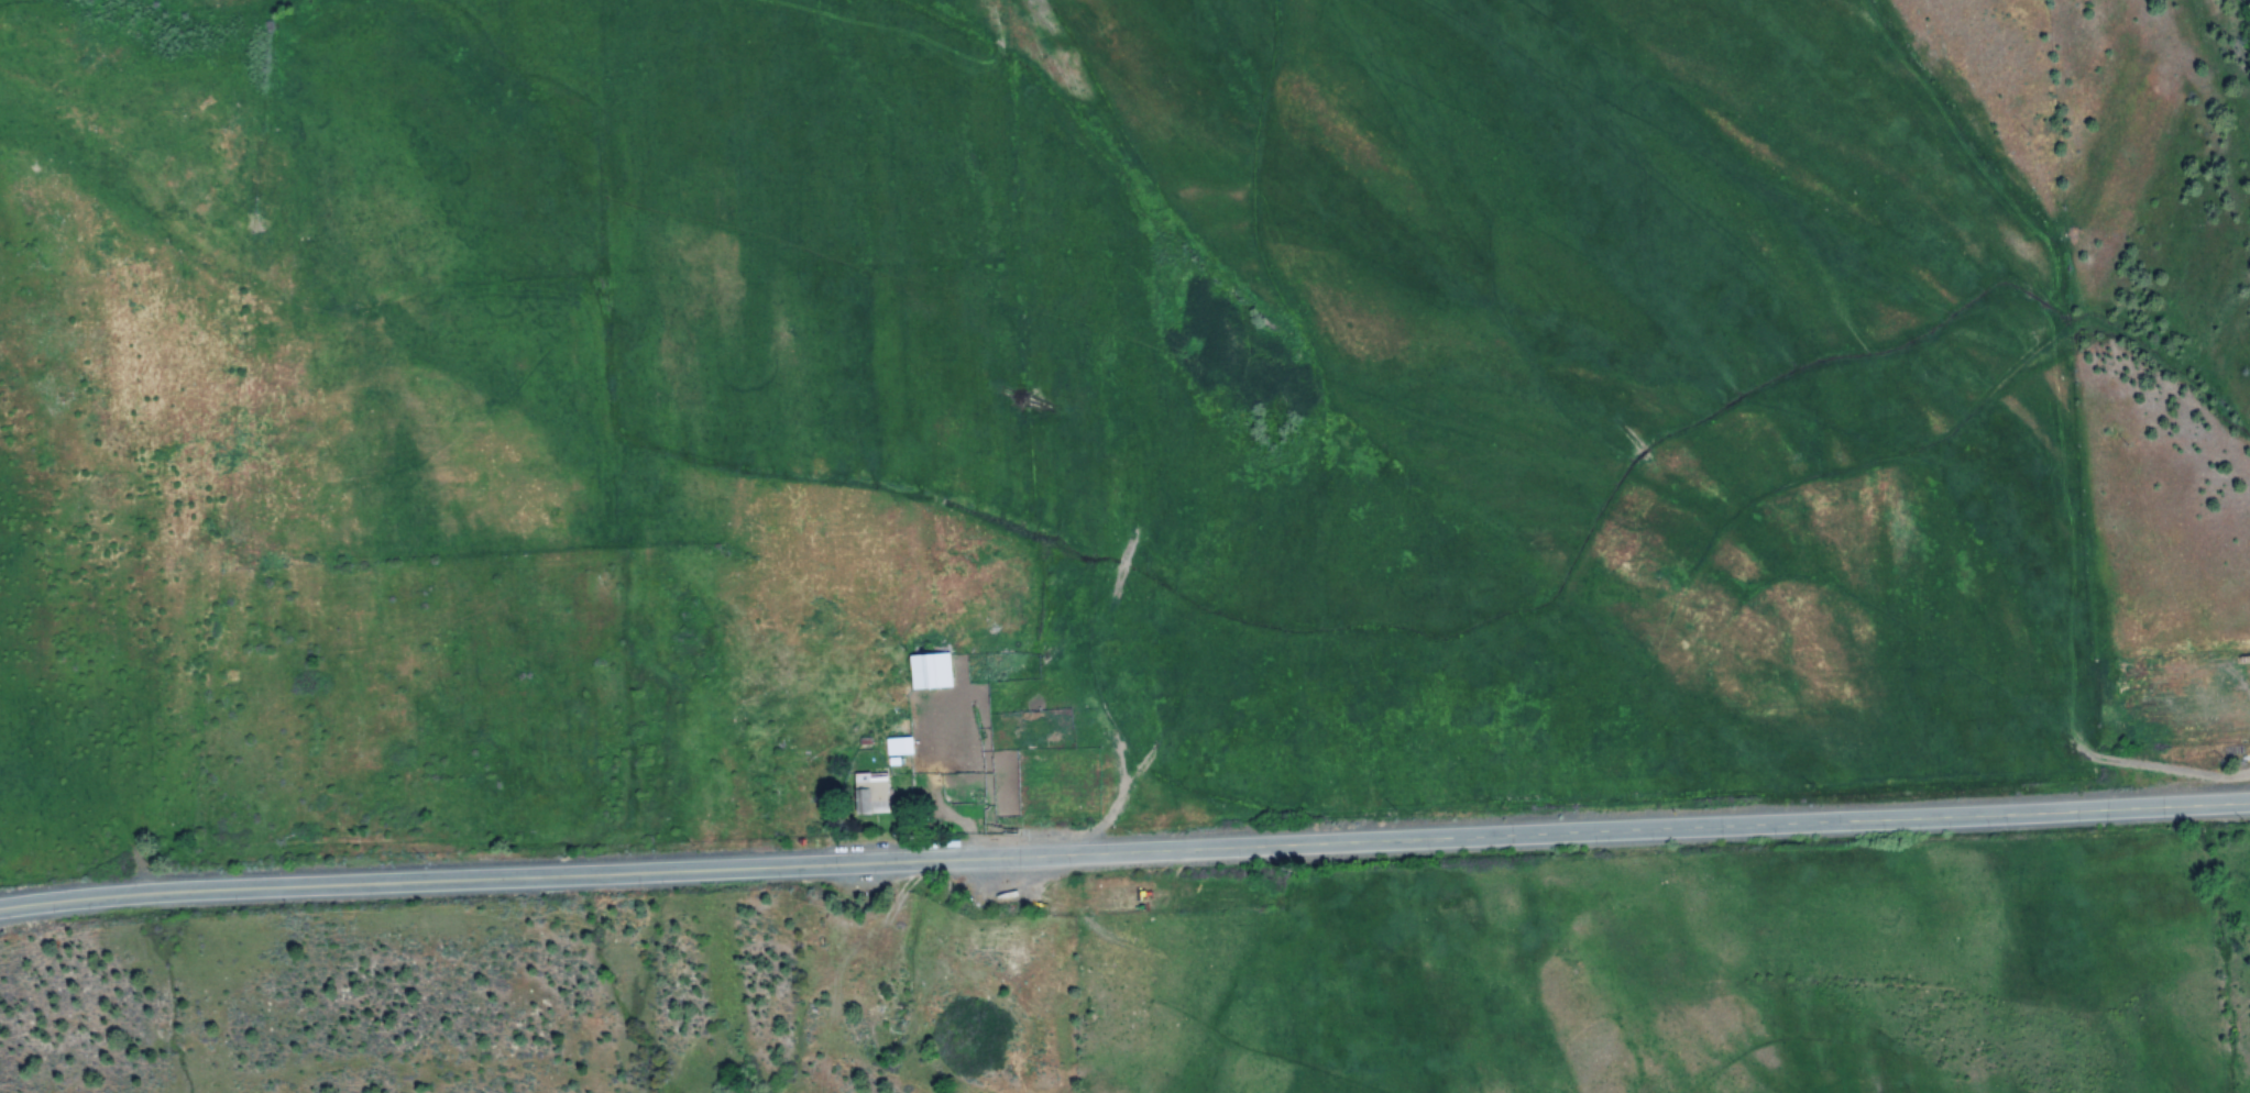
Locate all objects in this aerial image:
building: (931, 670)
building: (899, 746)
building: (872, 794)
road: (1124, 850)

